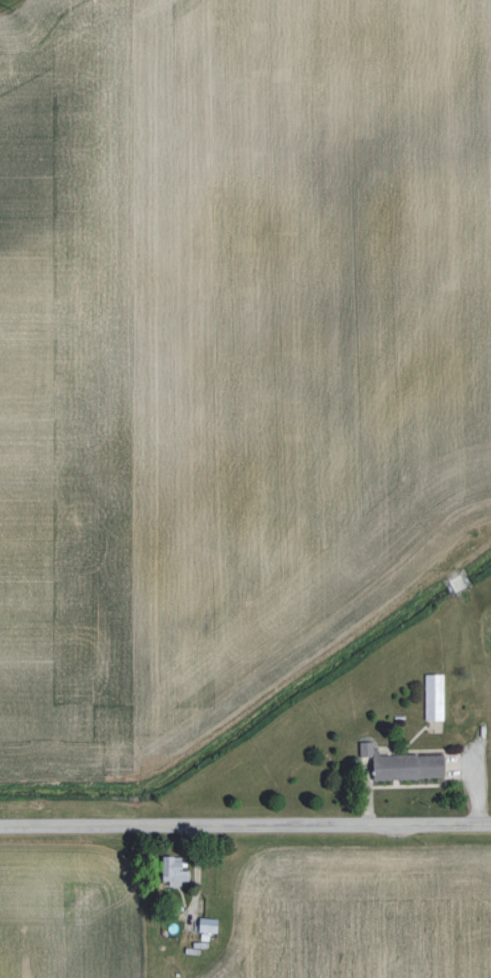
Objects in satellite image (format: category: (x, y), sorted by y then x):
building: (435, 692)
building: (408, 766)
road: (245, 823)

